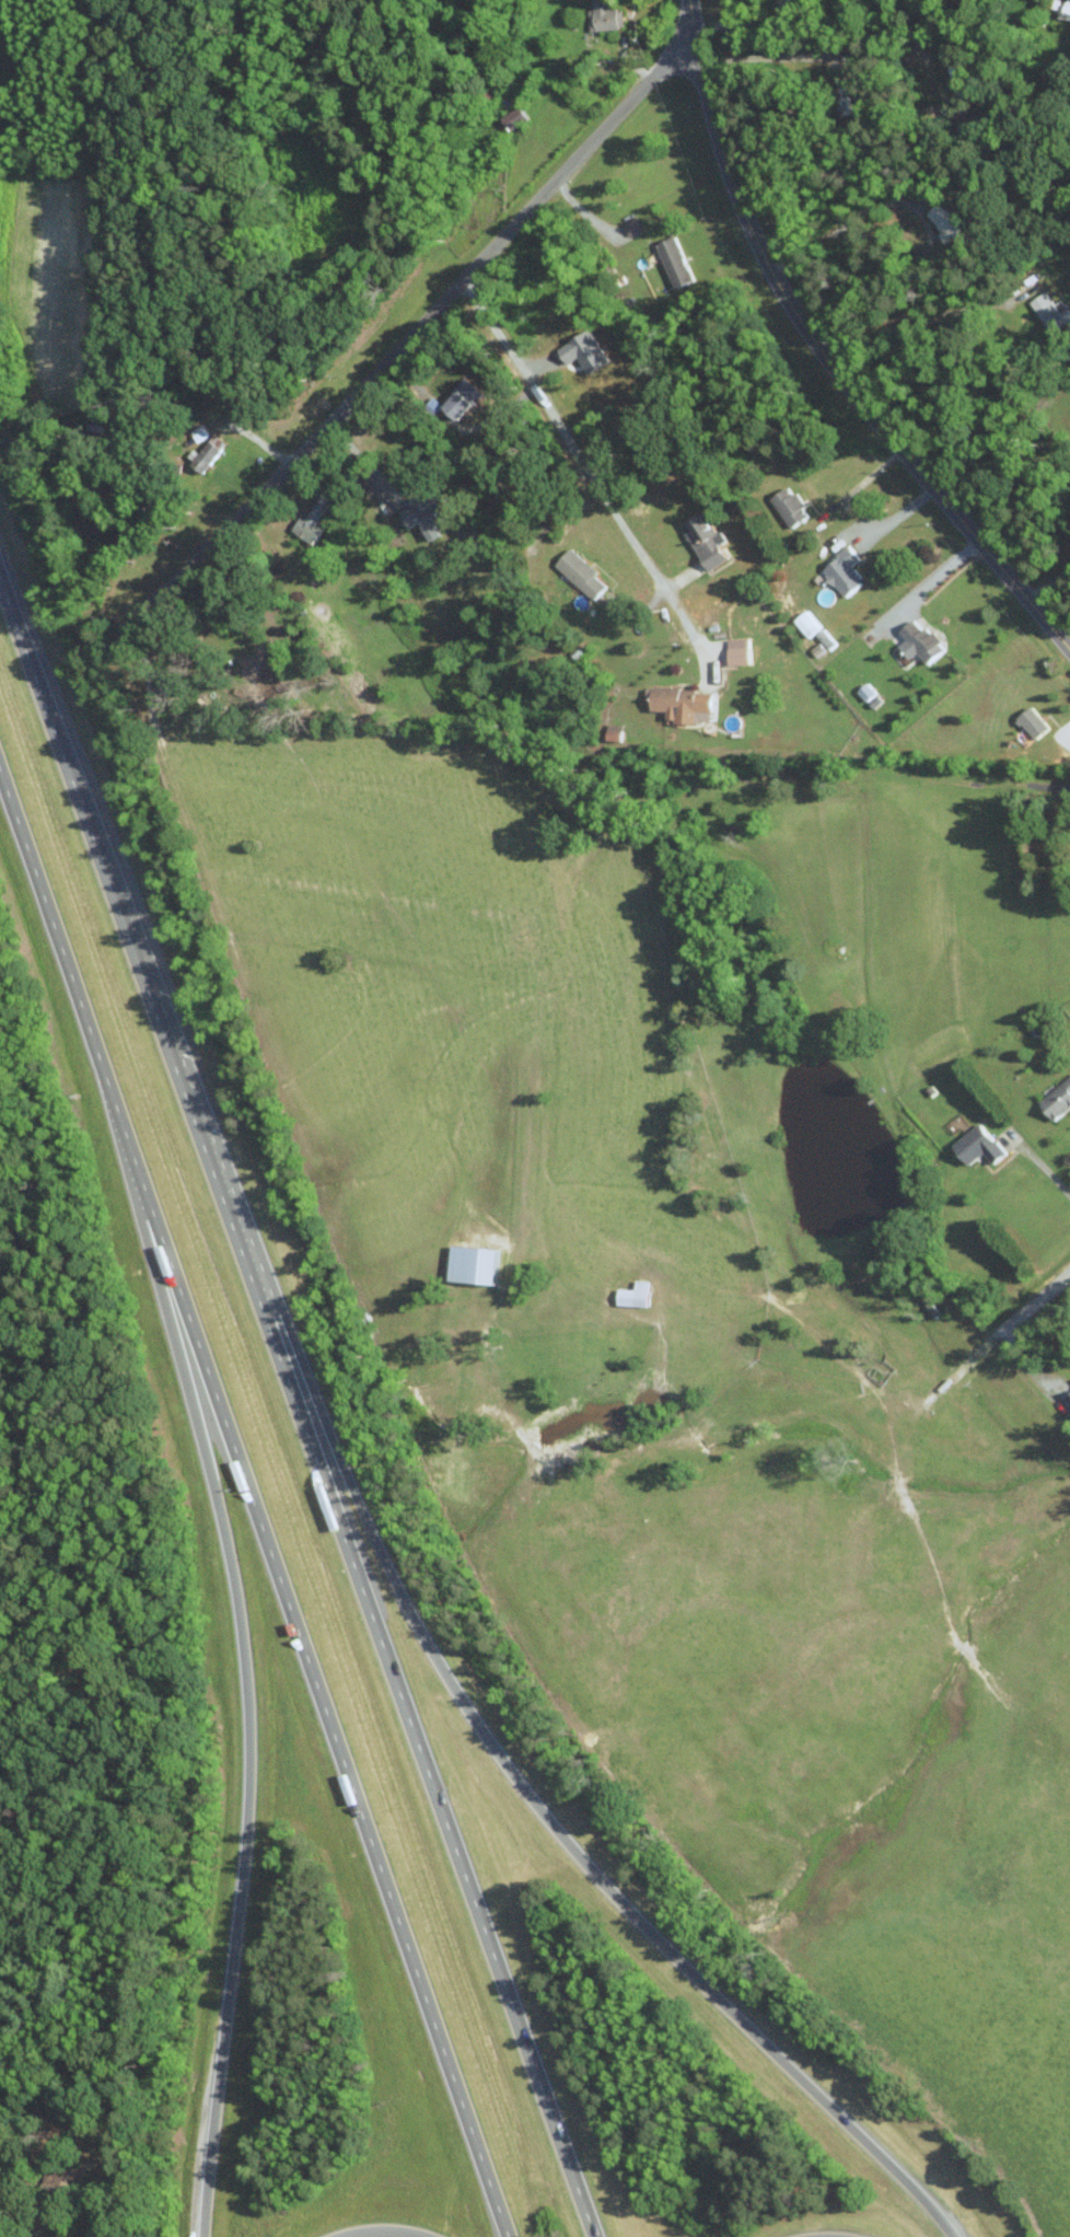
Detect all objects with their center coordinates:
building: (1065, 8)
building: (608, 15)
building: (519, 116)
building: (945, 224)
road: (847, 225)
building: (677, 260)
building: (1044, 312)
road: (924, 323)
road: (411, 333)
building: (590, 351)
road: (825, 356)
building: (470, 397)
building: (210, 454)
road: (589, 471)
building: (792, 507)
building: (429, 511)
building: (315, 520)
building: (710, 541)
building: (846, 571)
building: (582, 573)
road: (922, 586)
road: (1048, 586)
building: (812, 624)
building: (921, 641)
road: (507, 699)
building: (685, 703)
building: (1027, 720)
building: (616, 732)
road: (1060, 795)
road: (66, 970)
building: (1055, 1098)
building: (973, 1145)
road: (1044, 1170)
building: (479, 1263)
road: (1040, 1289)
building: (639, 1294)
building: (1067, 1395)
road: (298, 1410)
road: (245, 1694)
road: (319, 1699)
road: (528, 1795)
road: (376, 2234)

